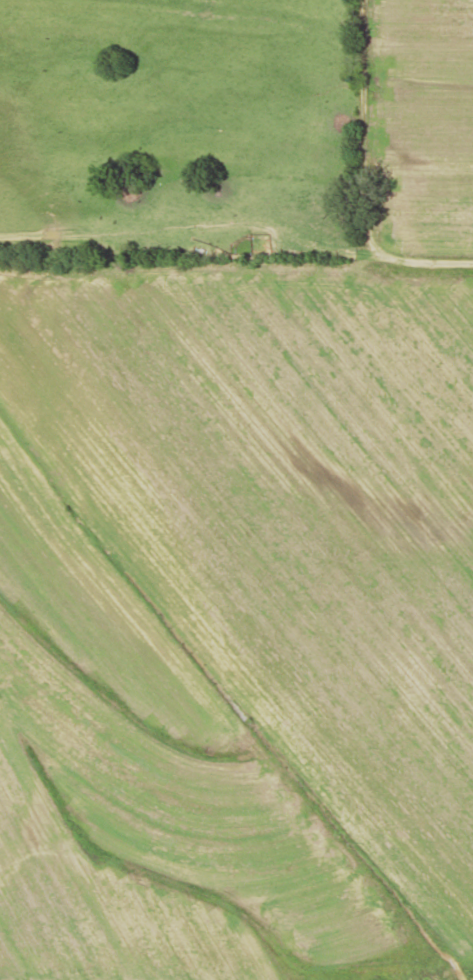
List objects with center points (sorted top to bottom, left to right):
road: (365, 128)
road: (429, 255)

